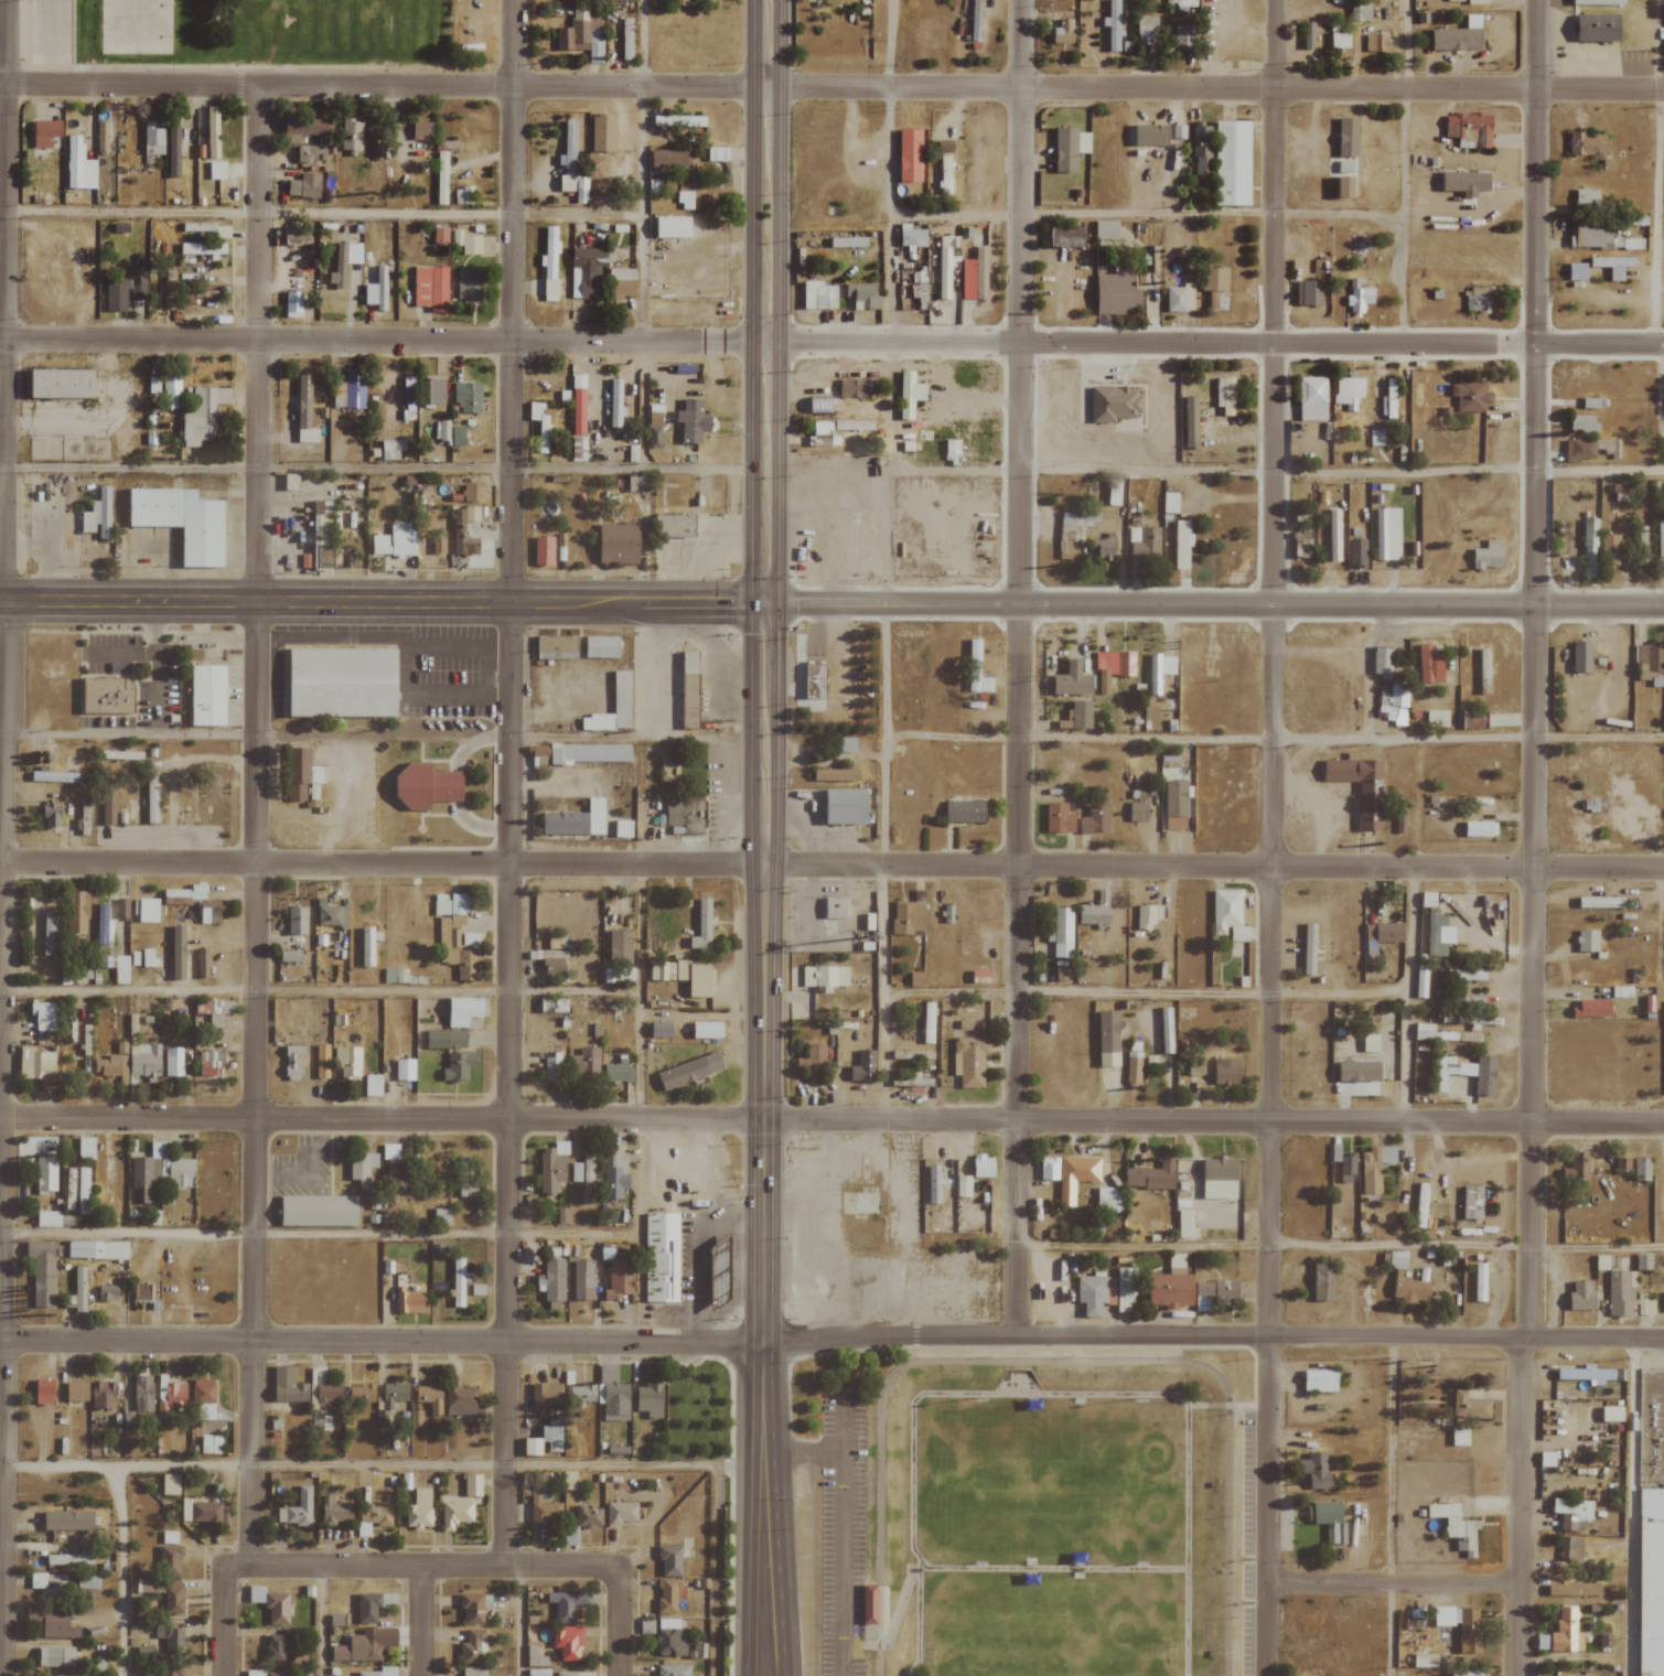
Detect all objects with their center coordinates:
building: (1474, 1)
building: (1596, 2)
building: (1183, 4)
building: (1359, 12)
building: (976, 20)
building: (1114, 24)
building: (1591, 29)
building: (1146, 30)
building: (1063, 32)
building: (582, 33)
building: (1307, 34)
building: (1183, 35)
building: (1663, 36)
building: (1454, 37)
building: (627, 39)
building: (1336, 41)
road: (642, 43)
building: (1374, 44)
road: (831, 85)
building: (680, 121)
building: (214, 122)
building: (308, 126)
building: (1466, 128)
building: (423, 130)
building: (46, 132)
building: (603, 133)
building: (1153, 135)
building: (103, 137)
building: (351, 137)
building: (1343, 137)
building: (153, 139)
building: (1582, 142)
building: (1071, 148)
building: (570, 149)
building: (1202, 150)
building: (173, 151)
building: (376, 152)
building: (309, 153)
building: (911, 154)
building: (672, 158)
building: (1235, 162)
building: (79, 165)
building: (217, 170)
road: (1404, 173)
building: (945, 174)
building: (441, 178)
building: (328, 180)
building: (1461, 181)
building: (304, 186)
building: (576, 186)
building: (1342, 186)
building: (464, 195)
building: (1585, 198)
building: (686, 201)
road: (320, 213)
road: (641, 213)
road: (1080, 213)
road: (1339, 213)
building: (673, 227)
building: (1108, 229)
building: (440, 235)
building: (913, 236)
building: (1069, 237)
building: (468, 243)
building: (203, 249)
building: (344, 261)
building: (551, 262)
building: (1611, 265)
building: (1574, 271)
building: (944, 273)
building: (975, 276)
building: (200, 280)
building: (138, 283)
building: (622, 283)
building: (470, 287)
building: (1216, 287)
building: (169, 288)
building: (431, 288)
building: (378, 289)
building: (1118, 291)
building: (1307, 293)
building: (117, 294)
building: (820, 296)
building: (863, 296)
building: (1357, 296)
building: (1181, 298)
building: (1474, 303)
building: (293, 304)
road: (831, 341)
road: (2, 367)
building: (63, 383)
building: (855, 388)
building: (171, 391)
building: (350, 391)
building: (409, 391)
building: (432, 391)
building: (1345, 391)
building: (911, 394)
building: (1228, 394)
building: (1468, 395)
building: (469, 397)
building: (1309, 398)
building: (1386, 398)
building: (615, 402)
building: (1115, 402)
building: (1587, 402)
building: (823, 405)
building: (305, 411)
building: (203, 415)
building: (694, 421)
building: (1584, 423)
building: (540, 425)
building: (855, 425)
building: (1125, 426)
building: (824, 428)
road: (884, 431)
building: (450, 433)
building: (655, 437)
building: (1374, 438)
building: (393, 449)
building: (1577, 449)
road: (375, 469)
road: (1342, 473)
building: (471, 492)
building: (1620, 494)
building: (1171, 503)
building: (472, 513)
building: (99, 516)
building: (457, 518)
building: (185, 522)
building: (676, 526)
building: (1073, 531)
building: (1385, 534)
building: (323, 535)
building: (1332, 535)
building: (1661, 538)
building: (396, 541)
building: (1588, 541)
building: (1144, 542)
building: (464, 544)
building: (619, 544)
building: (1642, 544)
building: (438, 545)
building: (1183, 545)
building: (1102, 549)
building: (1608, 549)
building: (545, 551)
building: (1355, 551)
building: (1485, 555)
road: (751, 557)
road: (774, 557)
building: (305, 561)
traffic signals: (751, 604)
traffic signals: (774, 604)
road: (831, 604)
road: (383, 625)
road: (337, 638)
road: (396, 640)
building: (556, 647)
building: (602, 647)
road: (332, 652)
road: (458, 653)
building: (1649, 657)
building: (1577, 658)
building: (691, 662)
building: (1426, 663)
building: (1378, 664)
parking lot: (399, 666)
road: (1021, 667)
building: (1114, 667)
building: (978, 669)
road: (1529, 669)
building: (1159, 672)
road: (447, 673)
road: (498, 673)
building: (1643, 673)
road: (405, 676)
road: (267, 677)
road: (289, 677)
building: (1074, 680)
building: (817, 681)
building: (342, 684)
road: (395, 685)
building: (622, 692)
building: (208, 695)
building: (108, 697)
road: (458, 699)
building: (1392, 701)
building: (1078, 716)
road: (382, 717)
building: (1434, 718)
building: (1470, 720)
building: (1663, 726)
road: (494, 732)
road: (375, 734)
road: (1273, 739)
building: (848, 745)
road: (1332, 748)
road: (421, 749)
road: (1296, 749)
building: (540, 751)
building: (591, 753)
road: (439, 763)
building: (667, 767)
building: (302, 773)
building: (837, 775)
building: (54, 776)
road: (1303, 781)
road: (512, 783)
building: (396, 784)
road: (494, 784)
building: (1362, 785)
road: (455, 786)
building: (428, 788)
road: (1383, 789)
road: (1296, 794)
road: (1296, 795)
building: (108, 798)
building: (151, 799)
road: (1310, 802)
parking lot: (1318, 803)
building: (1177, 805)
road: (1321, 806)
road: (1348, 806)
building: (846, 807)
building: (83, 810)
building: (965, 810)
building: (1138, 812)
building: (52, 815)
road: (440, 816)
building: (686, 818)
building: (1059, 818)
building: (1096, 819)
road: (421, 820)
building: (578, 820)
building: (1397, 820)
road: (254, 825)
building: (1475, 828)
road: (1321, 830)
road: (494, 831)
road: (1345, 831)
road: (1371, 831)
road: (1271, 838)
road: (444, 849)
road: (1356, 849)
road: (831, 863)
building: (176, 896)
building: (1597, 902)
building: (452, 904)
building: (837, 907)
building: (1096, 910)
building: (147, 911)
building: (77, 912)
building: (211, 912)
building: (1230, 915)
building: (1149, 916)
building: (908, 917)
building: (297, 921)
building: (101, 924)
building: (704, 927)
road: (1657, 927)
building: (1381, 932)
building: (47, 933)
building: (1061, 933)
building: (321, 939)
building: (469, 939)
building: (1585, 941)
building: (367, 946)
building: (1306, 948)
building: (170, 953)
building: (455, 953)
building: (290, 956)
building: (620, 956)
building: (149, 958)
building: (202, 963)
building: (556, 966)
building: (121, 970)
building: (685, 975)
building: (1463, 975)
building: (398, 976)
building: (826, 977)
building: (917, 979)
road: (636, 990)
road: (951, 990)
road: (318, 991)
road: (882, 991)
road: (1212, 992)
road: (1405, 995)
building: (1467, 1002)
building: (552, 1006)
building: (214, 1007)
building: (1588, 1008)
building: (465, 1011)
building: (43, 1016)
building: (928, 1023)
building: (132, 1024)
building: (663, 1030)
building: (708, 1030)
building: (1168, 1030)
building: (1110, 1039)
building: (445, 1040)
building: (1367, 1043)
building: (144, 1061)
building: (970, 1061)
building: (172, 1062)
building: (293, 1062)
building: (347, 1062)
building: (584, 1062)
building: (36, 1063)
building: (210, 1064)
building: (814, 1064)
building: (110, 1066)
building: (321, 1066)
building: (460, 1066)
building: (863, 1066)
building: (1134, 1067)
building: (552, 1068)
building: (405, 1070)
building: (616, 1071)
building: (691, 1071)
building: (1227, 1072)
building: (1354, 1072)
building: (1462, 1073)
building: (373, 1085)
road: (831, 1116)
building: (86, 1148)
building: (389, 1152)
building: (1344, 1163)
building: (1620, 1163)
building: (978, 1165)
building: (1576, 1165)
building: (1371, 1167)
building: (362, 1168)
building: (1045, 1168)
building: (1639, 1168)
building: (181, 1173)
building: (45, 1174)
building: (144, 1175)
building: (398, 1175)
building: (583, 1175)
building: (614, 1175)
building: (1073, 1175)
building: (1147, 1175)
building: (465, 1178)
building: (1214, 1178)
building: (931, 1182)
building: (960, 1185)
building: (71, 1189)
building: (83, 1191)
building: (1107, 1199)
building: (374, 1200)
building: (1469, 1202)
building: (1419, 1204)
building: (319, 1211)
building: (441, 1217)
building: (47, 1218)
building: (1181, 1223)
road: (637, 1231)
road: (127, 1233)
road: (447, 1233)
road: (1340, 1245)
building: (98, 1250)
building: (721, 1257)
building: (662, 1258)
building: (1394, 1259)
building: (1641, 1261)
building: (1598, 1263)
building: (42, 1271)
building: (620, 1279)
building: (1319, 1279)
building: (459, 1280)
building: (552, 1280)
building: (583, 1281)
building: (1478, 1281)
building: (719, 1289)
building: (1123, 1289)
building: (1164, 1289)
building: (1408, 1289)
building: (78, 1290)
building: (141, 1292)
building: (108, 1293)
building: (1092, 1293)
building: (1211, 1293)
building: (1619, 1293)
building: (1577, 1296)
building: (409, 1301)
building: (1663, 1301)
building: (1644, 1304)
road: (2, 1332)
road: (831, 1337)
road: (1044, 1363)
building: (1582, 1375)
building: (1317, 1379)
building: (289, 1385)
building: (396, 1390)
building: (43, 1392)
building: (77, 1392)
building: (330, 1392)
building: (142, 1393)
building: (362, 1393)
building: (604, 1394)
building: (103, 1395)
building: (546, 1395)
road: (750, 1395)
road: (770, 1395)
building: (170, 1396)
road: (916, 1396)
building: (431, 1397)
building: (462, 1397)
building: (204, 1398)
building: (651, 1400)
building: (1467, 1404)
road: (1225, 1405)
building: (459, 1410)
building: (1609, 1414)
building: (380, 1419)
building: (214, 1427)
building: (554, 1438)
building: (212, 1444)
building: (534, 1446)
road: (806, 1450)
road: (485, 1463)
road: (128, 1464)
building: (1312, 1470)
building: (570, 1481)
road: (1051, 1481)
building: (538, 1483)
building: (171, 1484)
building: (473, 1485)
road: (1389, 1506)
road: (1518, 1507)
road: (1632, 1508)
building: (297, 1510)
building: (419, 1510)
building: (336, 1511)
building: (202, 1512)
building: (1570, 1512)
building: (621, 1513)
building: (457, 1514)
building: (588, 1516)
building: (373, 1518)
building: (67, 1521)
building: (1324, 1521)
building: (1453, 1527)
road: (1226, 1532)
parking lot: (840, 1535)
road: (840, 1536)
building: (571, 1540)
road: (880, 1541)
building: (1568, 1548)
building: (68, 1559)
building: (170, 1560)
building: (670, 1560)
road: (915, 1561)
road: (238, 1566)
road: (437, 1566)
road: (715, 1569)
road: (119, 1570)
building: (88, 1581)
building: (1645, 1582)
road: (1391, 1584)
building: (51, 1586)
building: (152, 1586)
building: (1571, 1589)
building: (669, 1594)
building: (173, 1597)
building: (272, 1604)
building: (569, 1604)
building: (863, 1604)
building: (373, 1605)
building: (473, 1609)
road: (224, 1621)
road: (321, 1621)
road: (421, 1621)
road: (517, 1621)
road: (621, 1621)
road: (1050, 1622)
road: (1184, 1622)
building: (57, 1623)
building: (1458, 1625)
building: (1563, 1632)
building: (171, 1637)
building: (672, 1641)
building: (569, 1643)
building: (366, 1645)
building: (472, 1647)
building: (273, 1648)
building: (56, 1656)
building: (170, 1670)
building: (674, 1670)
building: (379, 1672)
building: (474, 1672)
building: (267, 1673)
building: (567, 1674)
building: (1464, 1674)
building: (65, 1675)
building: (1556, 1675)

